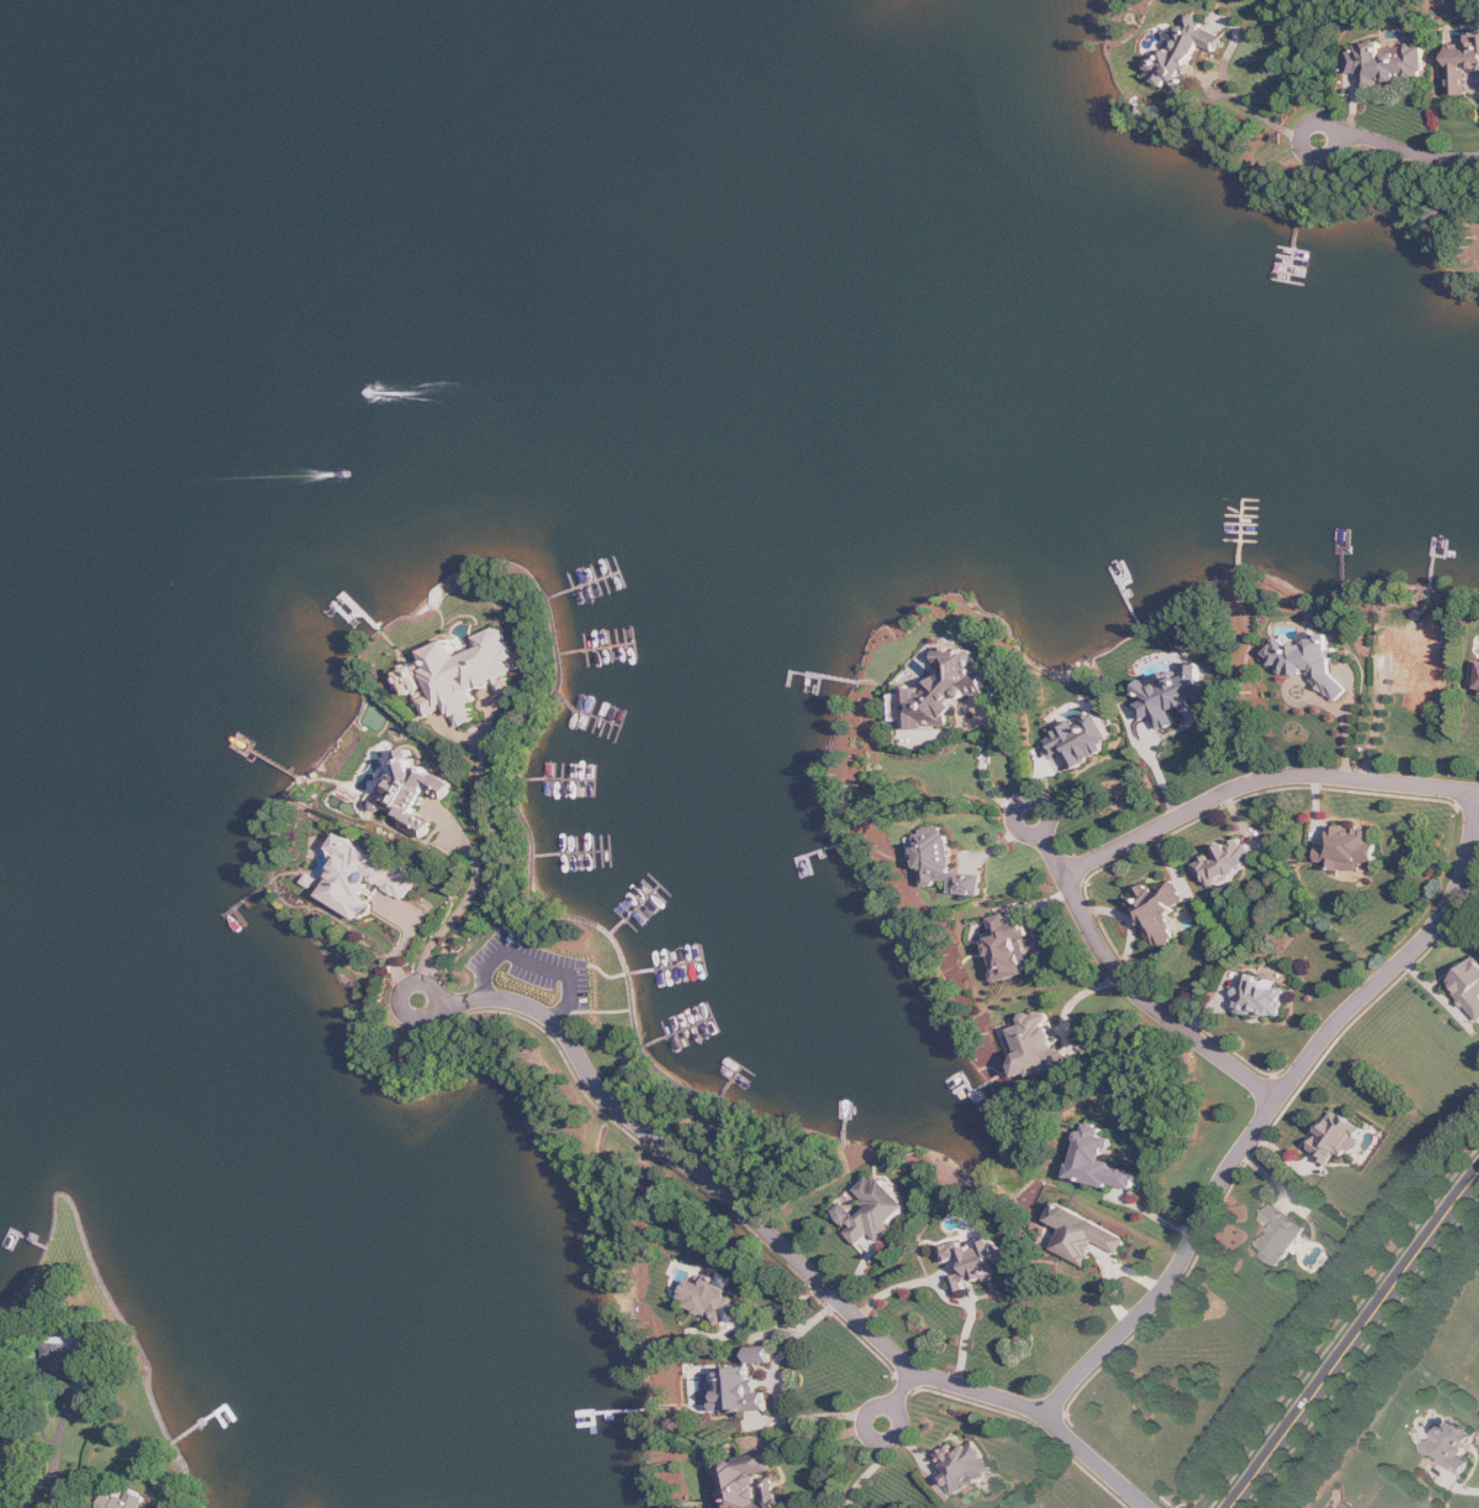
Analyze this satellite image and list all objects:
building: (1183, 53)
building: (1387, 63)
building: (1464, 66)
road: (1259, 112)
road: (1341, 133)
road: (1409, 152)
pier: (585, 586)
pier: (598, 648)
building: (1418, 658)
building: (1310, 661)
building: (462, 675)
building: (1476, 676)
building: (946, 690)
building: (1174, 695)
building: (901, 708)
pier: (587, 712)
road: (1348, 718)
building: (1081, 740)
road: (985, 761)
pier: (555, 779)
road: (1261, 779)
building: (417, 792)
road: (1026, 801)
building: (1350, 849)
pier: (573, 852)
road: (1054, 855)
road: (496, 857)
building: (1228, 862)
building: (947, 865)
building: (365, 878)
road: (471, 895)
road: (533, 896)
pier: (637, 910)
building: (1159, 912)
road: (515, 921)
road: (408, 940)
building: (1010, 948)
road: (538, 961)
pier: (667, 967)
building: (1469, 986)
road: (404, 996)
building: (1261, 998)
road: (1152, 1003)
road: (600, 1011)
pier: (678, 1032)
building: (1042, 1048)
pier: (733, 1082)
road: (1273, 1106)
building: (1338, 1138)
building: (1101, 1161)
road: (1153, 1213)
building: (1085, 1235)
building: (1281, 1236)
road: (789, 1249)
building: (977, 1262)
road: (1113, 1273)
road: (948, 1295)
building: (716, 1299)
road: (1355, 1340)
building: (762, 1355)
building: (74, 1357)
road: (774, 1387)
road: (904, 1388)
building: (738, 1391)
road: (894, 1407)
road: (820, 1435)
building: (13, 1442)
building: (1453, 1447)
building: (965, 1466)
road: (55, 1473)
road: (867, 1473)
building: (754, 1483)
building: (124, 1500)
building: (1345, 1506)

